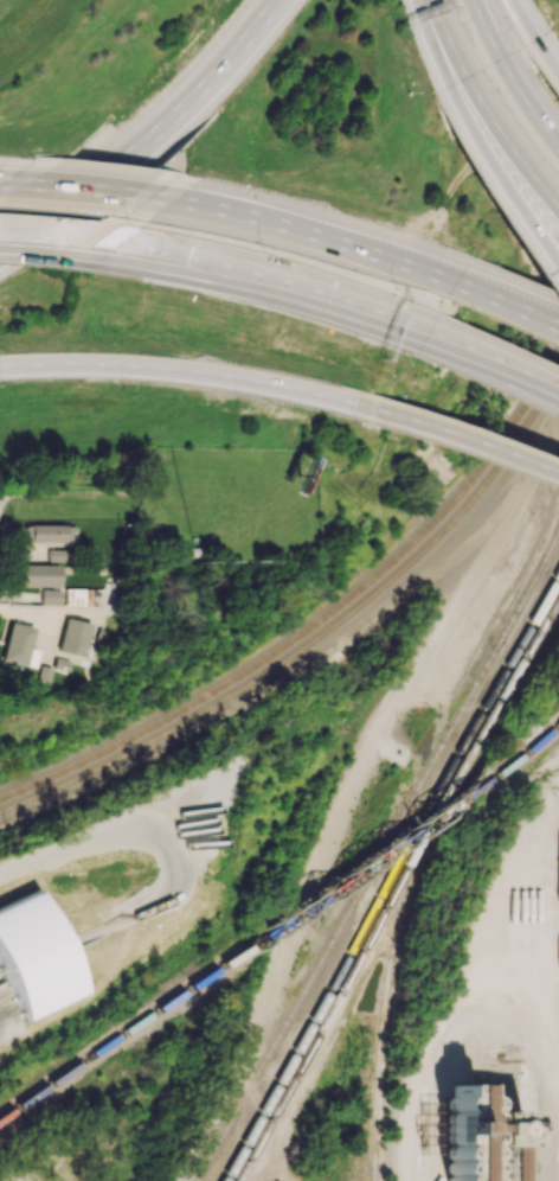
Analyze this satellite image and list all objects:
road: (429, 5)
road: (523, 19)
road: (486, 30)
road: (546, 57)
road: (527, 107)
road: (489, 116)
road: (148, 138)
road: (476, 142)
road: (108, 191)
road: (68, 242)
road: (346, 243)
road: (553, 274)
road: (296, 285)
road: (516, 306)
road: (506, 366)
road: (166, 371)
road: (445, 439)
road: (0, 491)
building: (47, 532)
building: (58, 554)
building: (38, 574)
building: (50, 595)
railway: (309, 632)
building: (75, 637)
building: (19, 645)
railway: (308, 646)
railway: (521, 757)
road: (346, 802)
railway: (378, 858)
railway: (362, 868)
building: (558, 877)
railway: (391, 880)
railway: (398, 893)
railway: (391, 976)
railway: (121, 1035)
road: (445, 1036)
road: (268, 1122)
building: (478, 1137)
railway: (367, 1167)
road: (266, 1179)

